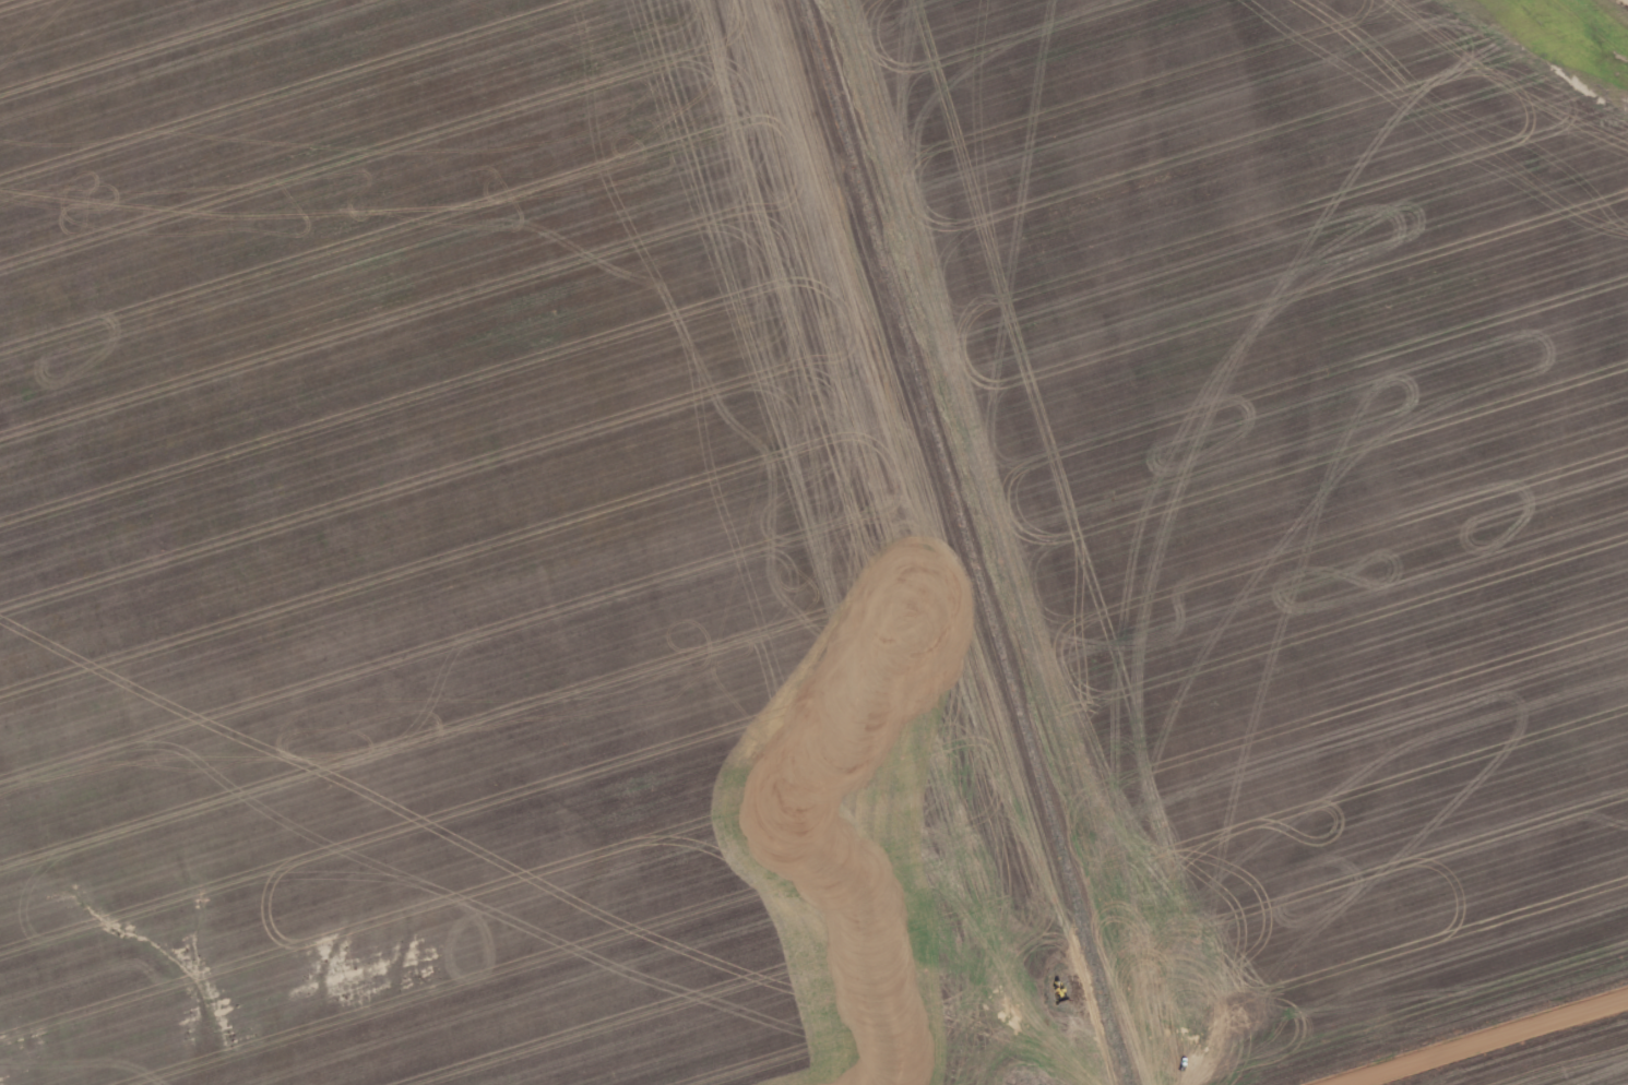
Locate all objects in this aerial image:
road: (1476, 1038)

